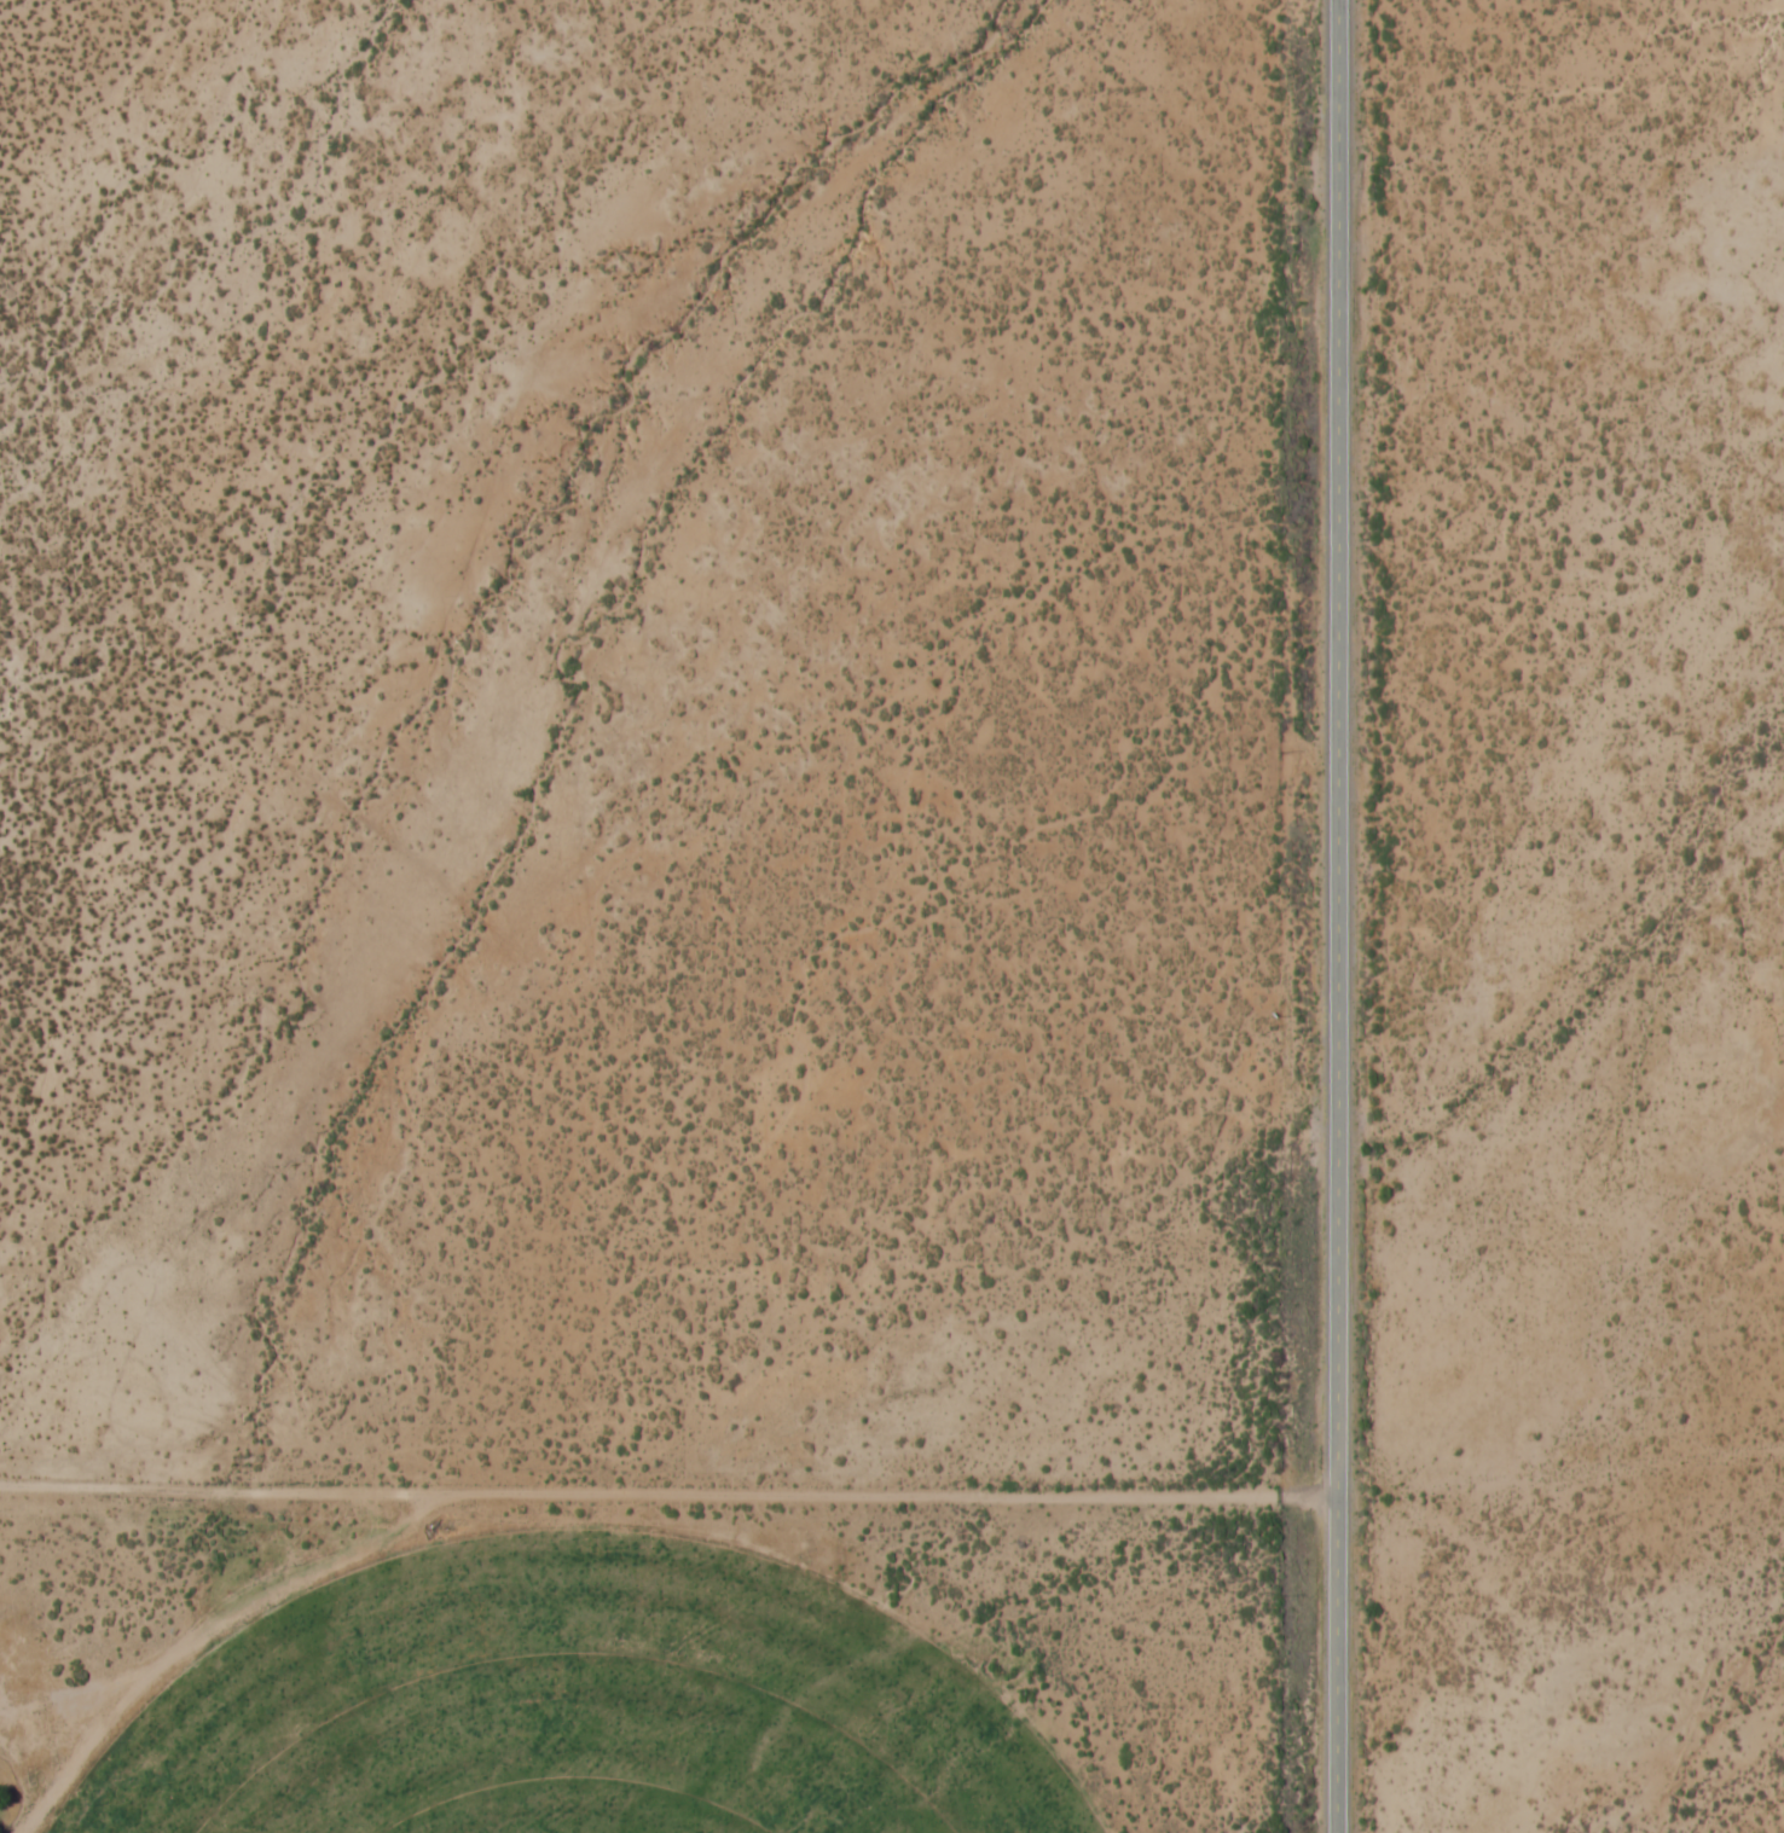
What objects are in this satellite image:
road: (666, 87)
road: (1332, 916)
road: (665, 1495)
crop: (586, 1710)

